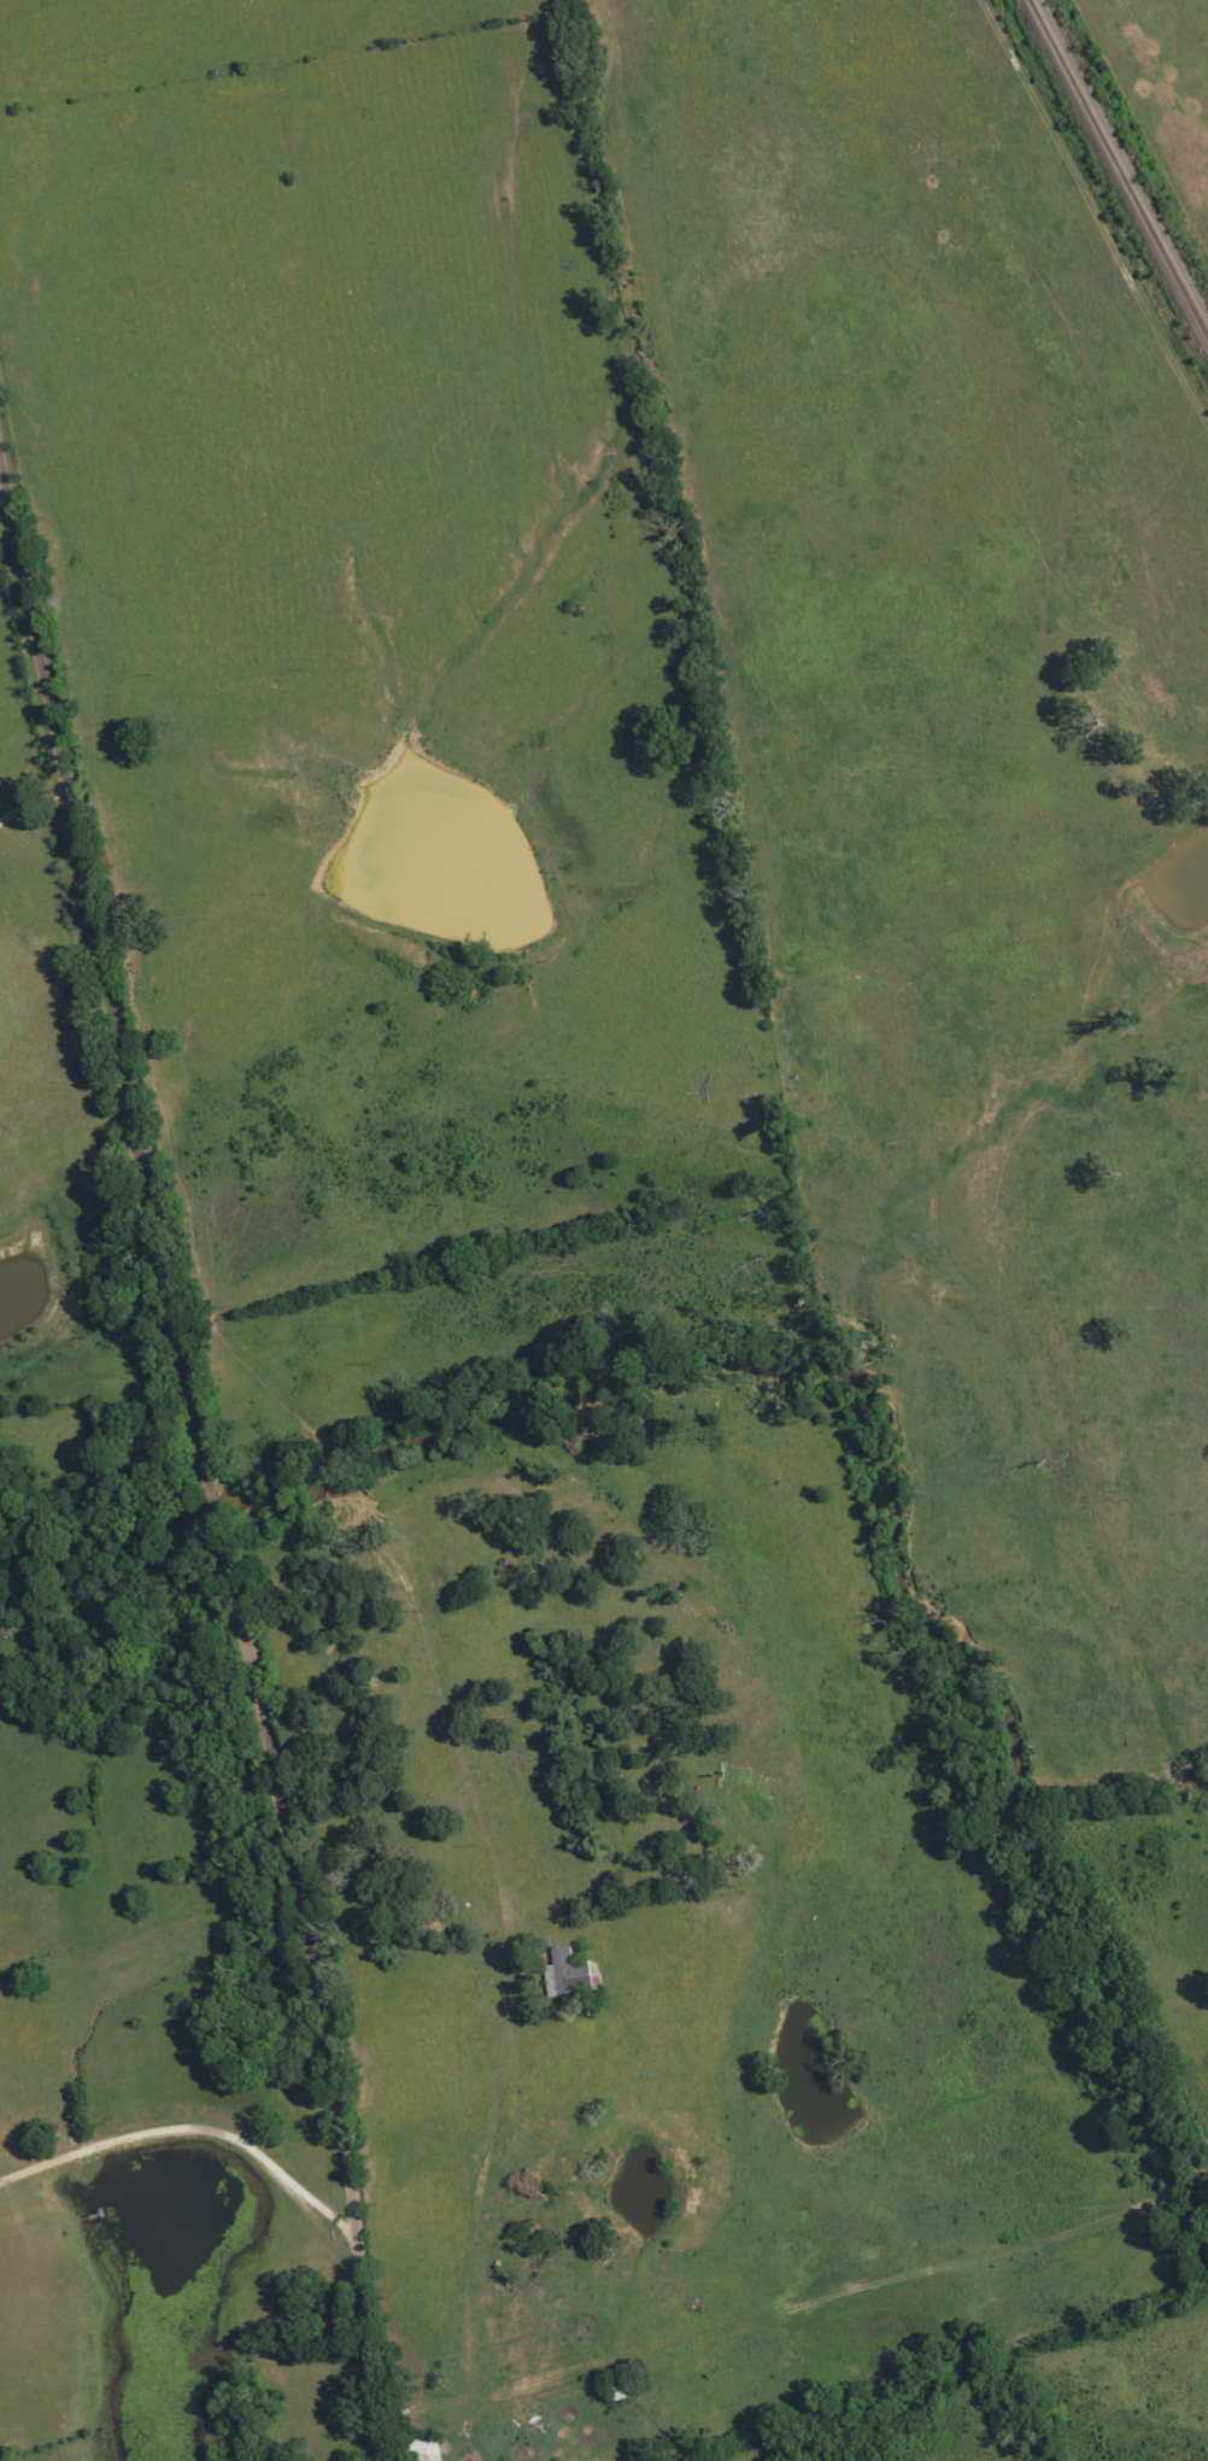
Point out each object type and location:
railway: (1116, 171)
road: (211, 1458)
road: (187, 2129)

